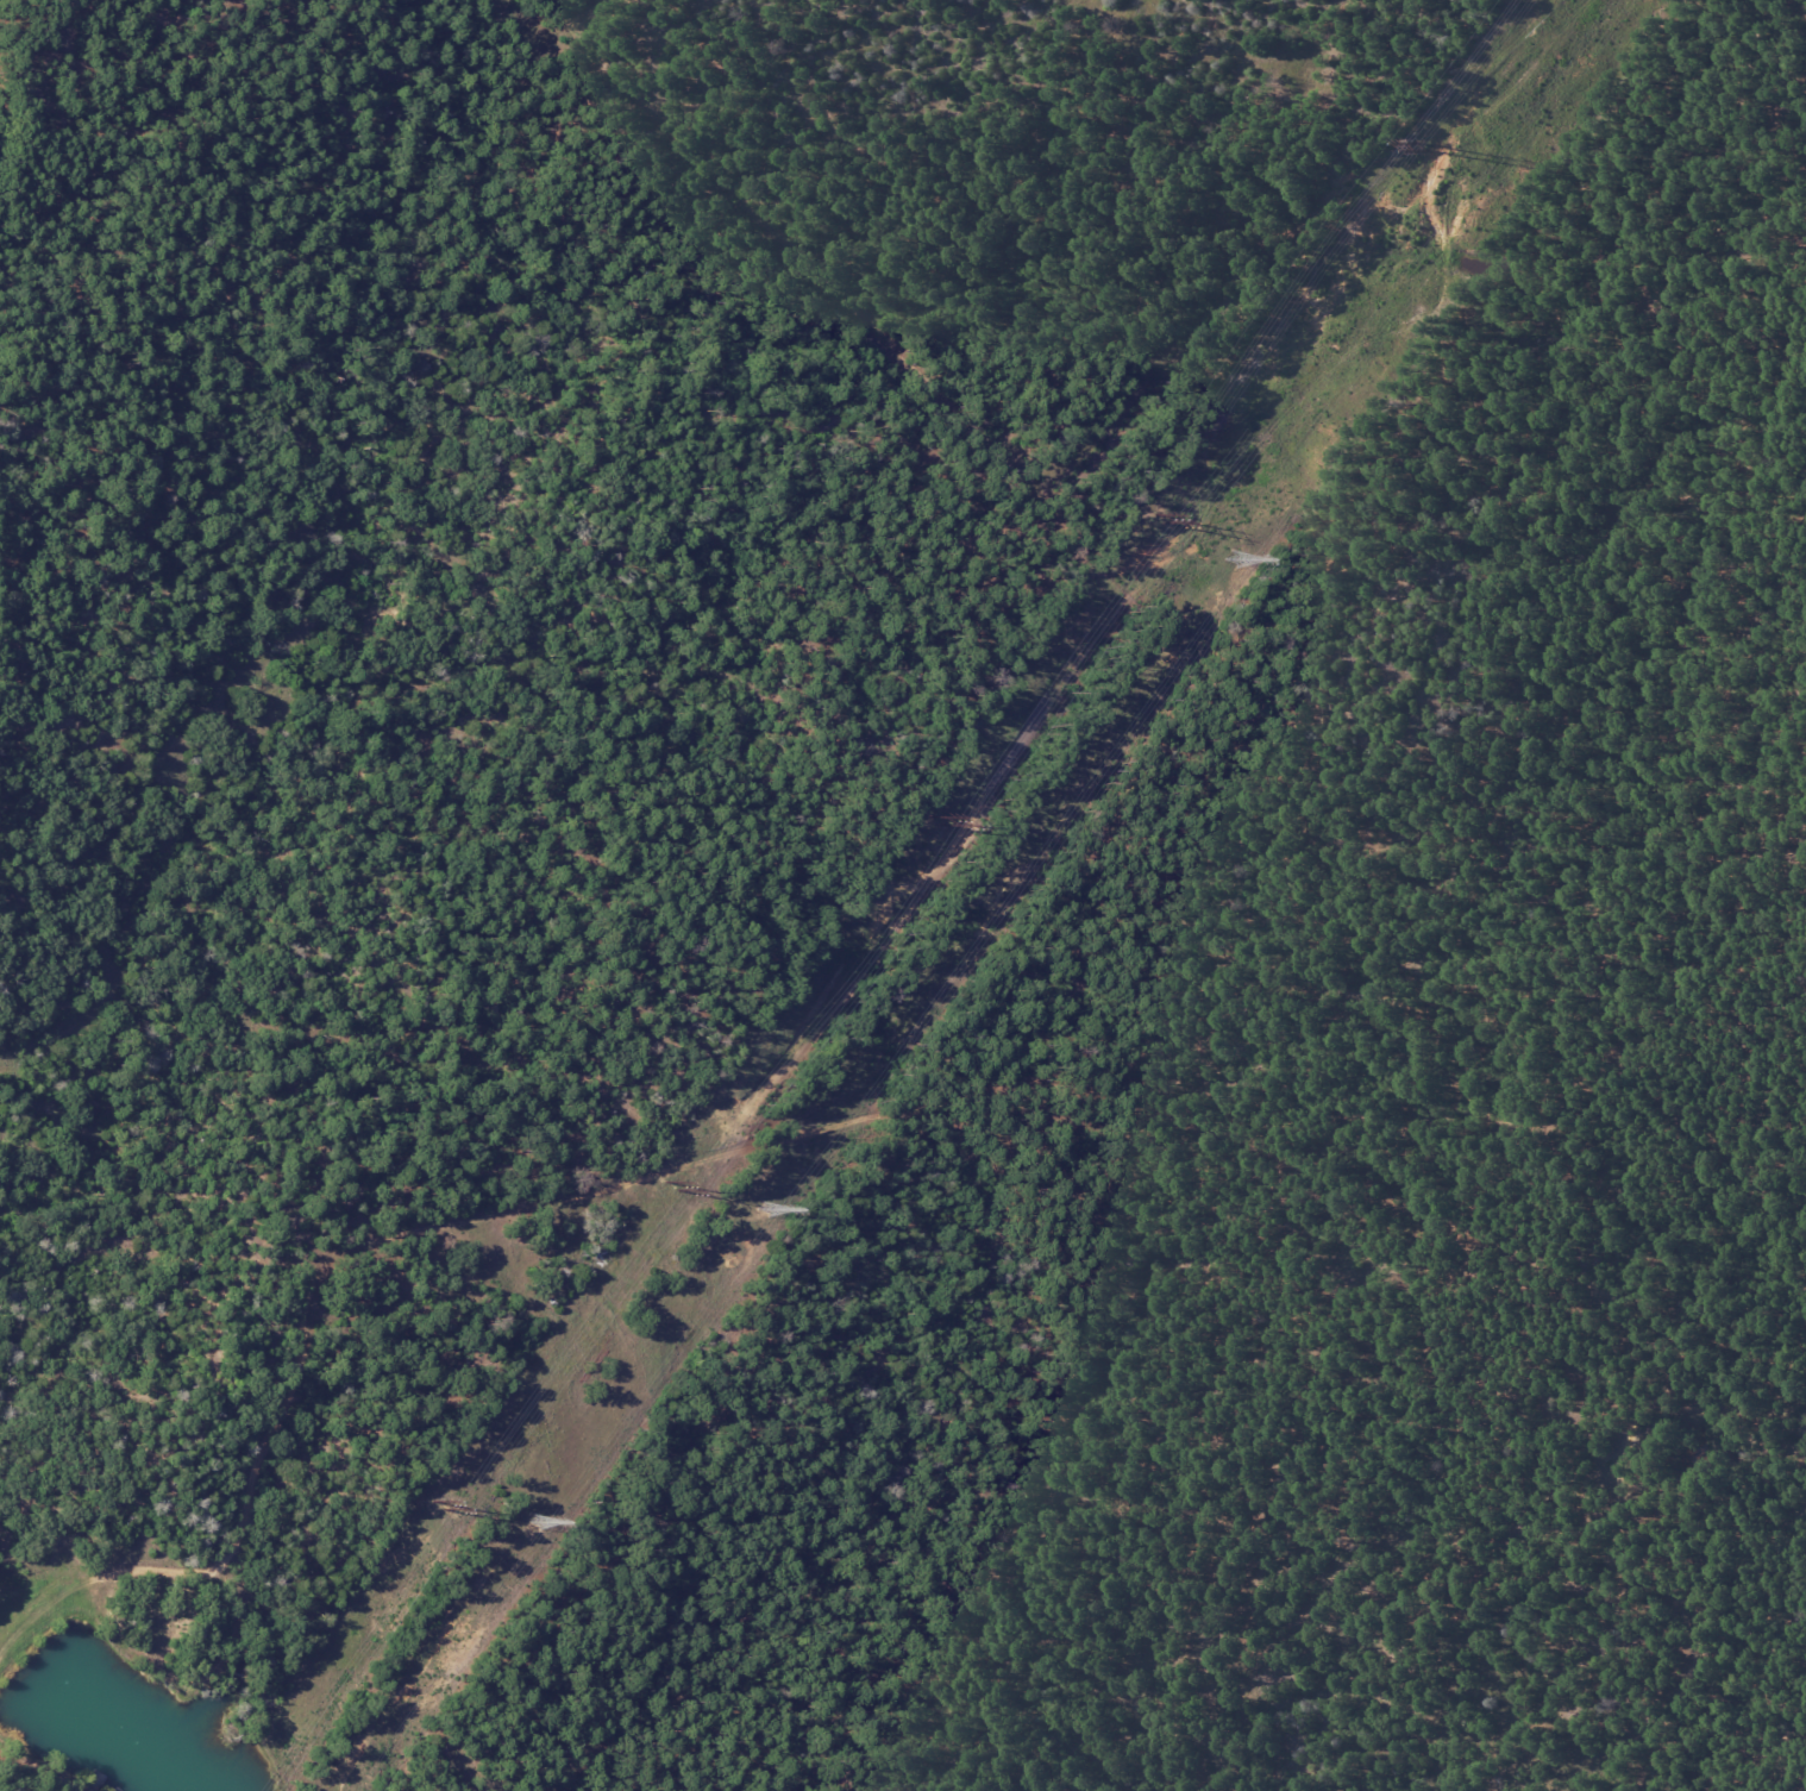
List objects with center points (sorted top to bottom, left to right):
power tower: (1421, 150)
power tower: (1153, 521)
power tower: (1231, 561)
power tower: (933, 821)
power tower: (667, 1185)
power tower: (757, 1213)
power tower: (437, 1508)
power tower: (534, 1526)

